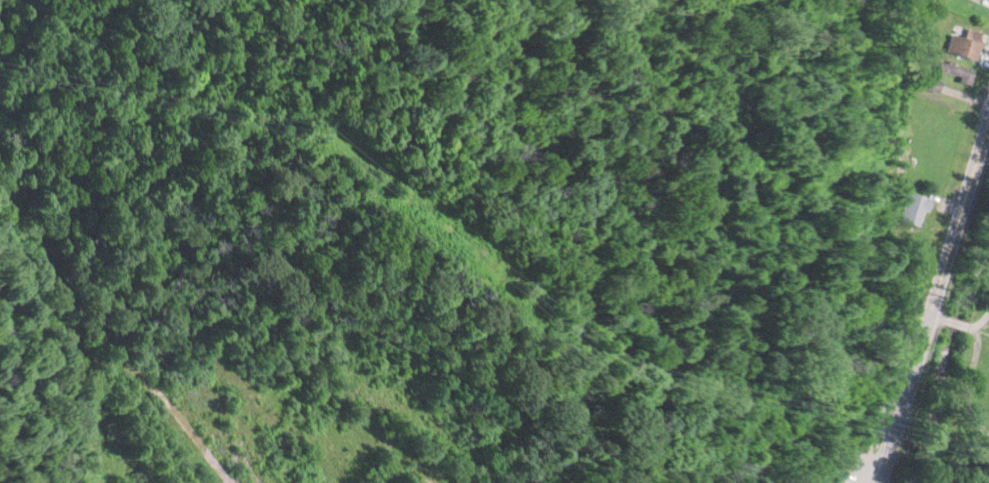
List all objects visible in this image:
building: (965, 43)
building: (957, 70)
building: (929, 81)
building: (913, 208)
road: (937, 292)
road: (983, 317)
road: (977, 329)

